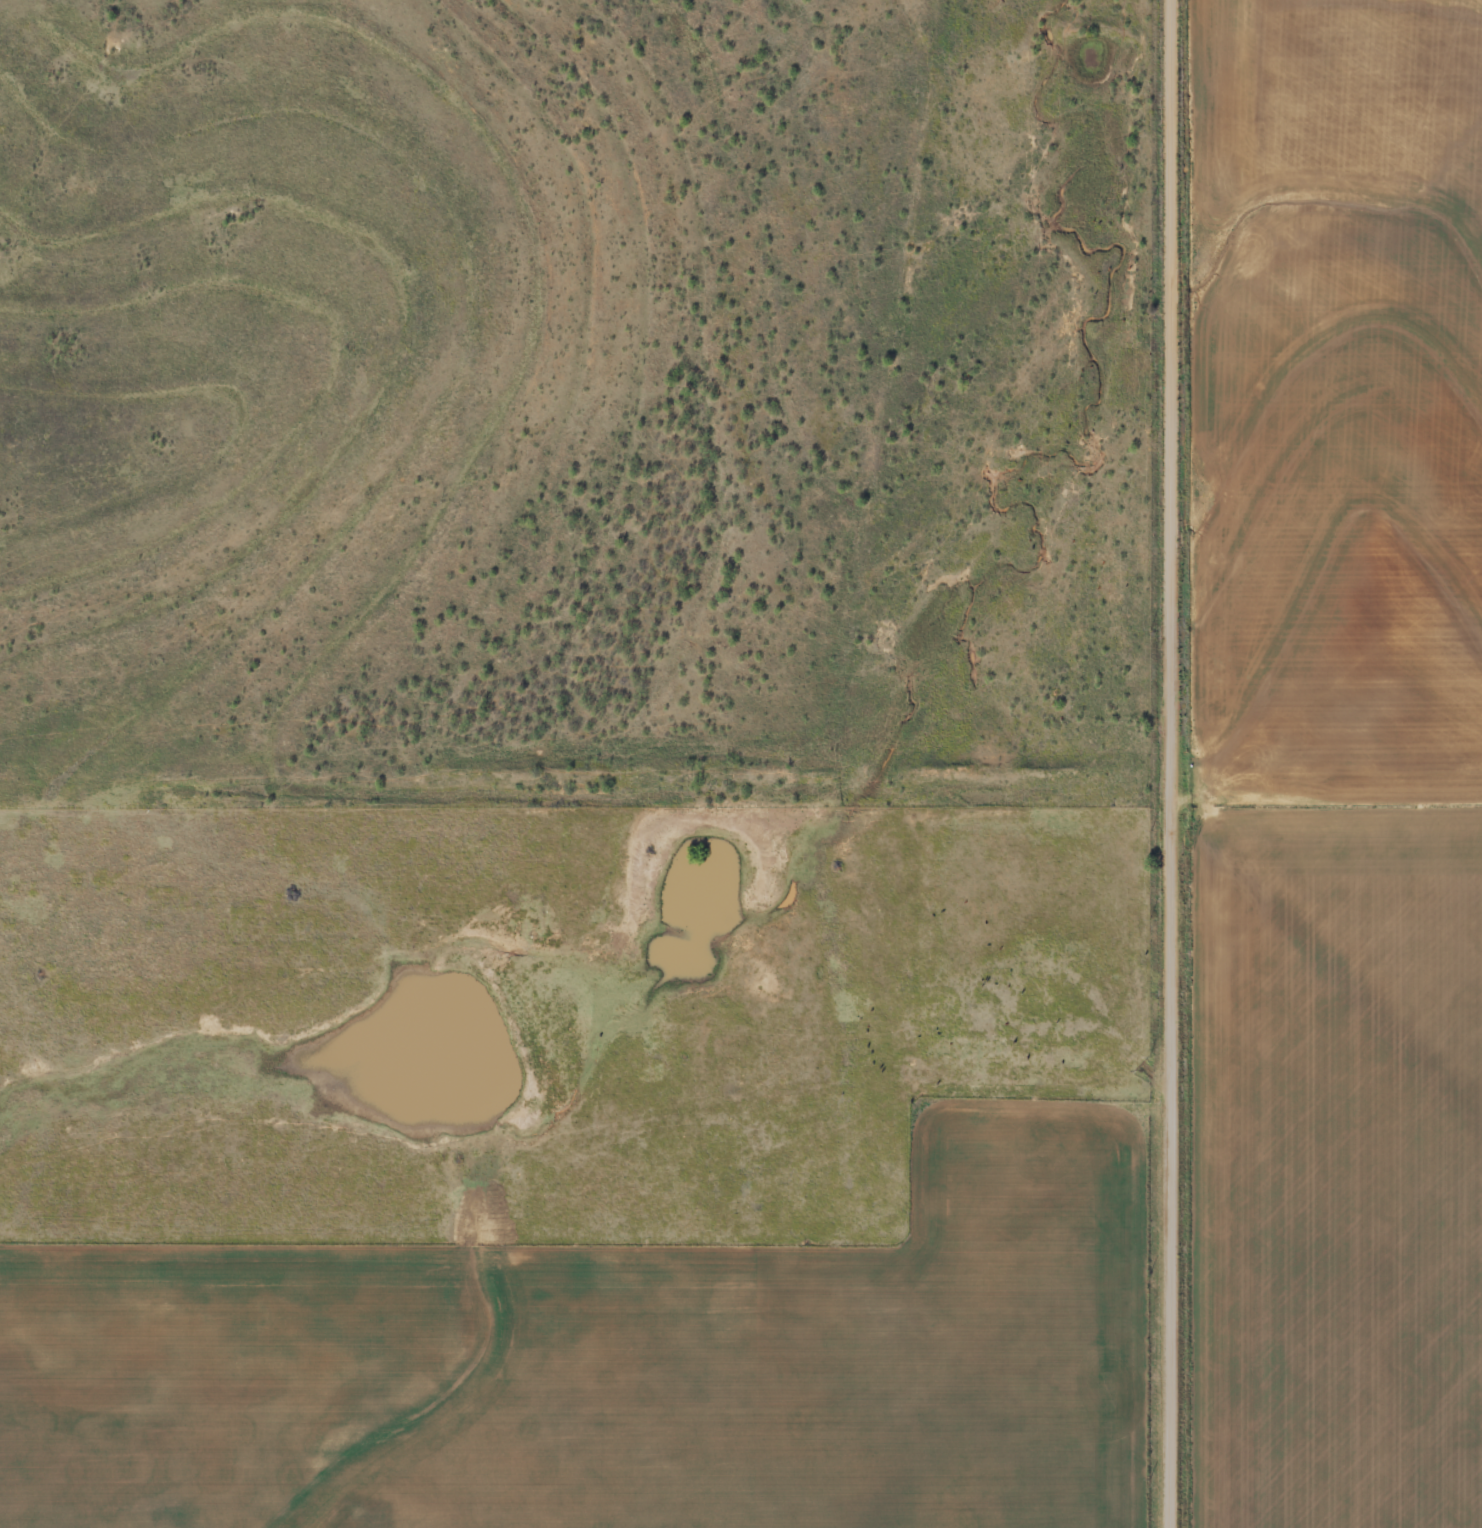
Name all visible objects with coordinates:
road: (1189, 764)

